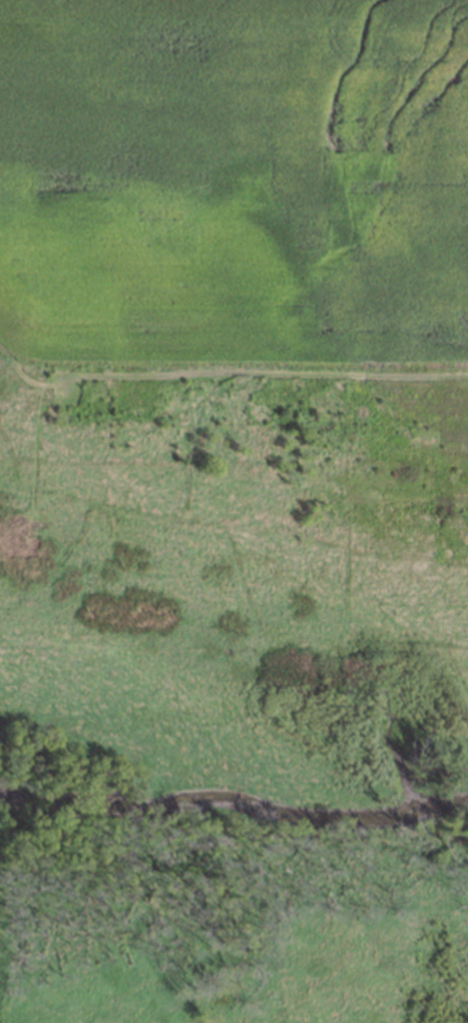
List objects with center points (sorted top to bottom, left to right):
river: (460, 807)
river: (226, 823)

